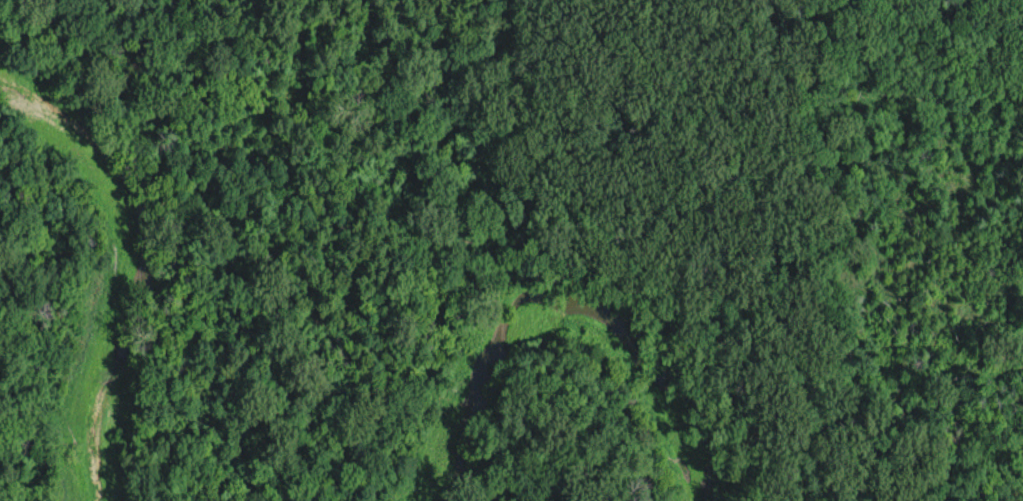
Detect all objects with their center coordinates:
river: (126, 263)
river: (553, 314)

